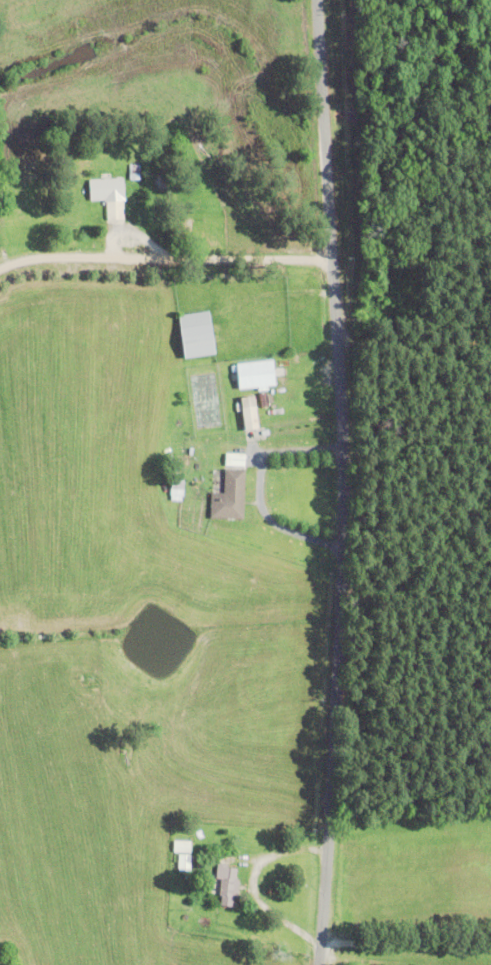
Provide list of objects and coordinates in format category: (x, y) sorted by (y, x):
building: (110, 196)
road: (164, 256)
building: (197, 334)
building: (250, 413)
road: (345, 482)
building: (231, 489)
building: (182, 846)
building: (228, 885)

